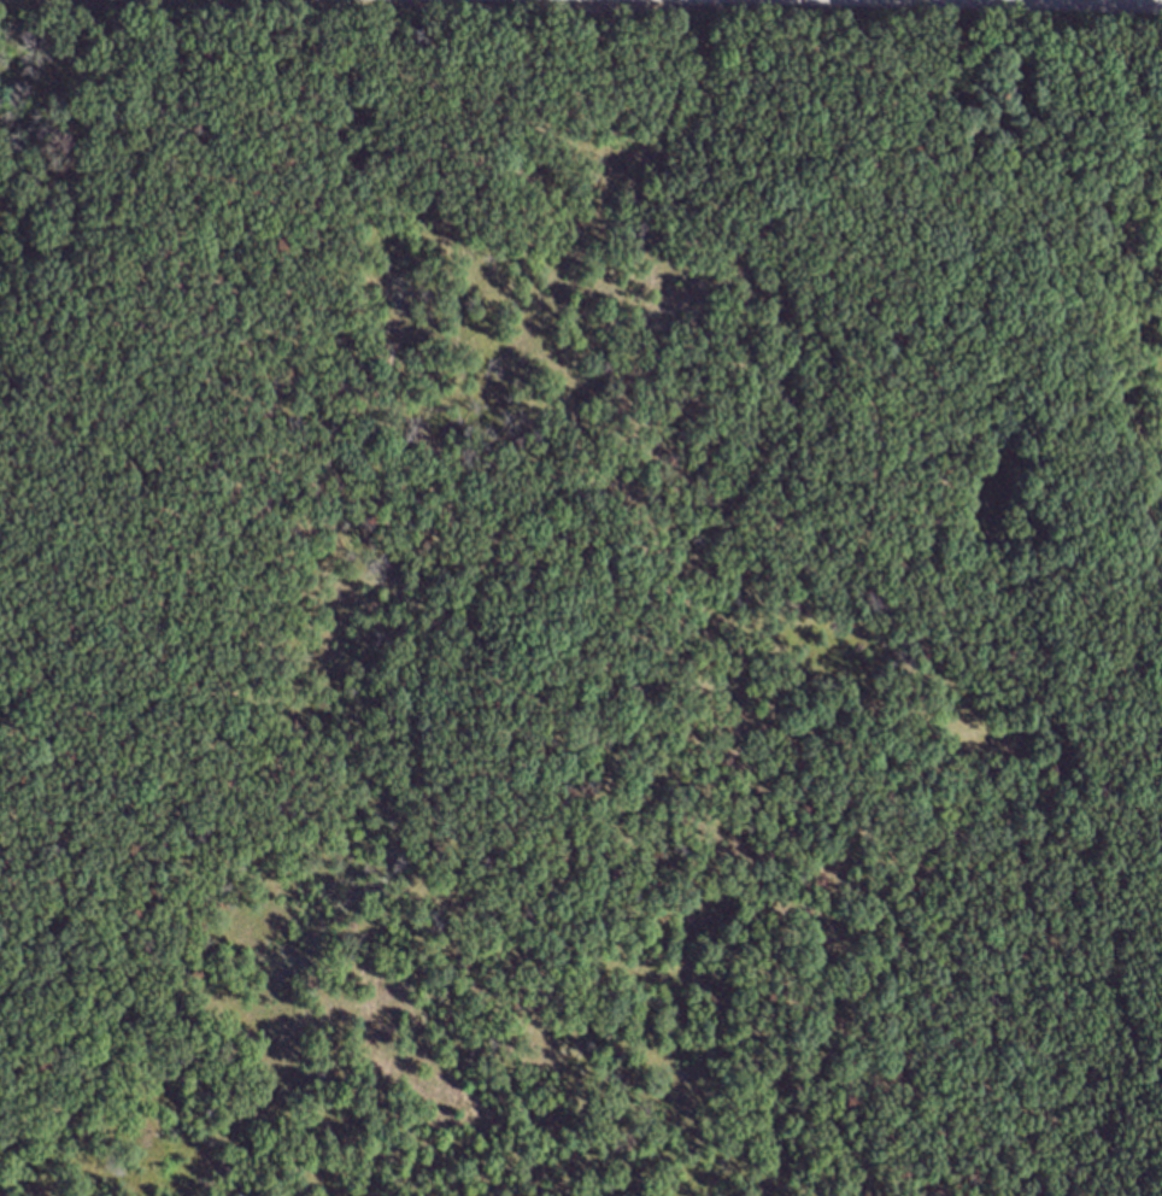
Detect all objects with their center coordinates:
road: (728, 4)
road: (962, 4)
road: (1062, 10)

